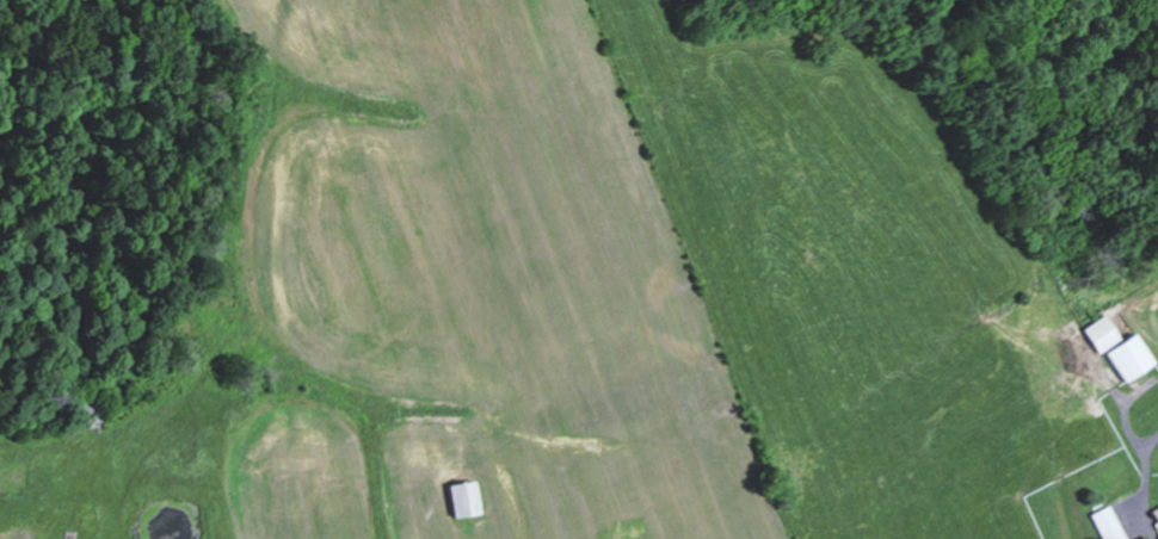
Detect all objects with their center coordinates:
building: (1119, 349)
building: (461, 500)
building: (1107, 523)

